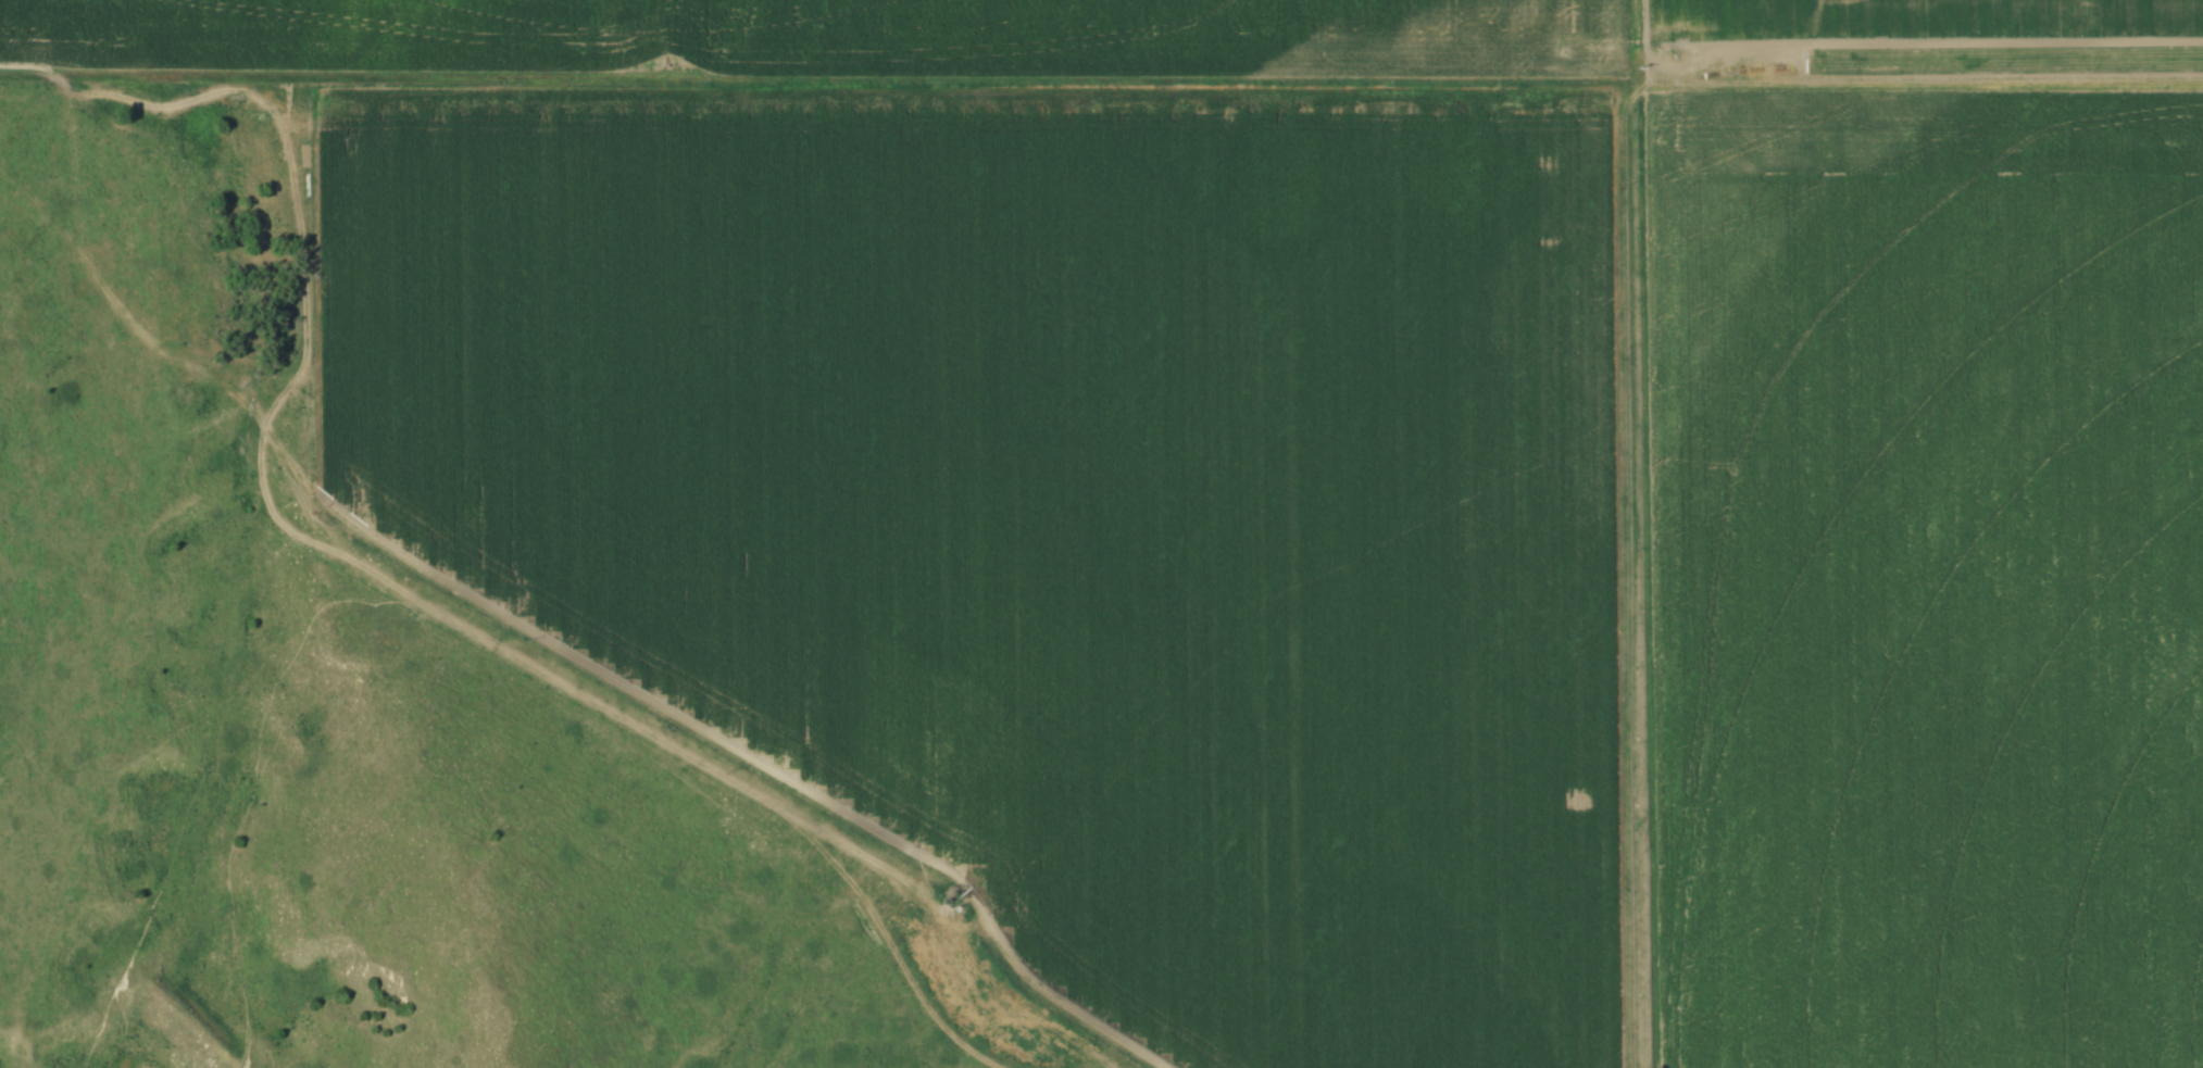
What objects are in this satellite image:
crop: (1131, 37)
crop: (1060, 510)
crop: (1927, 579)

